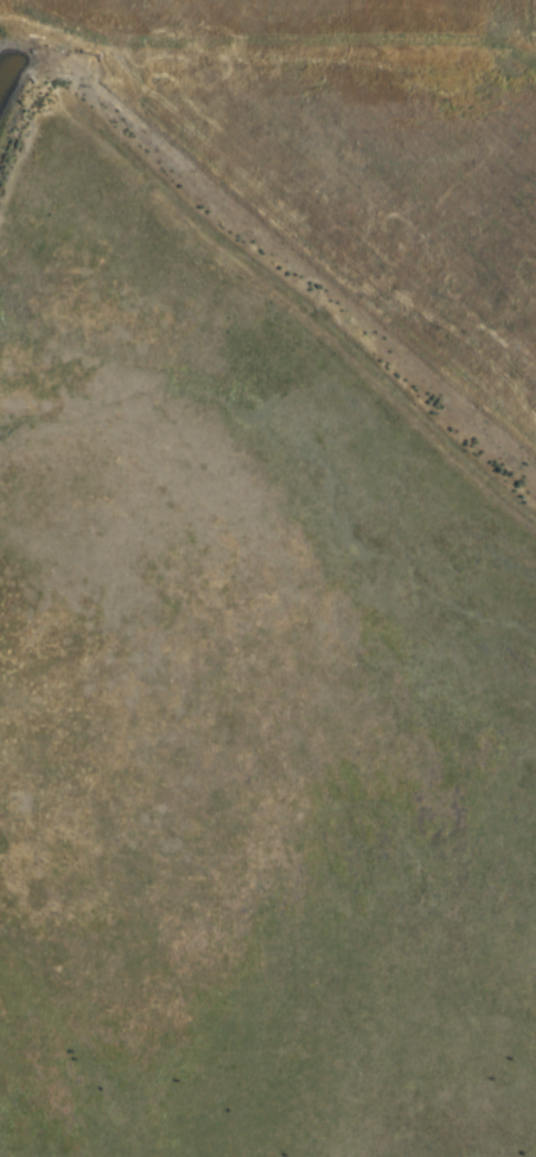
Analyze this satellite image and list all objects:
crop: (362, 34)
crop: (355, 184)

